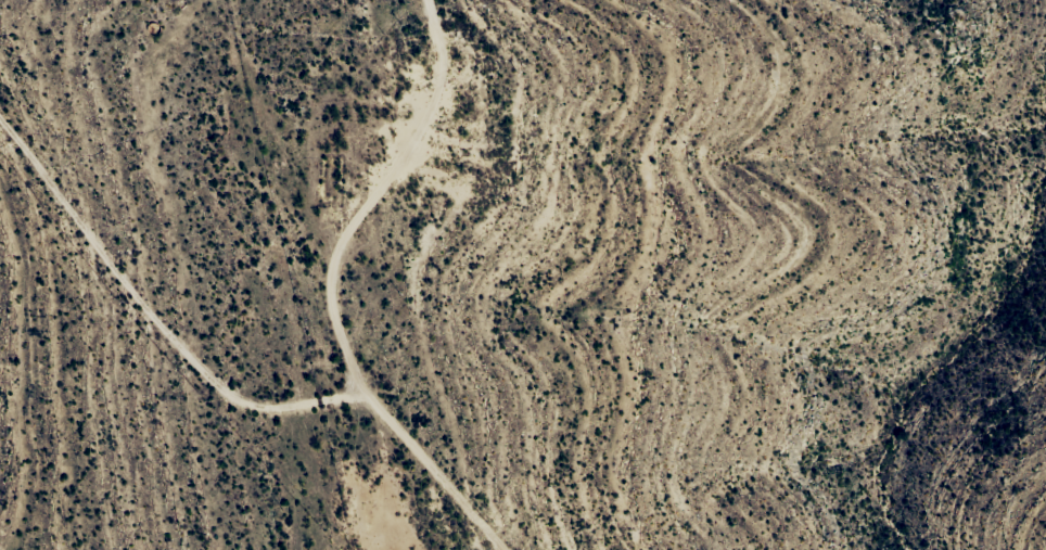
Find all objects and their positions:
road: (207, 433)

